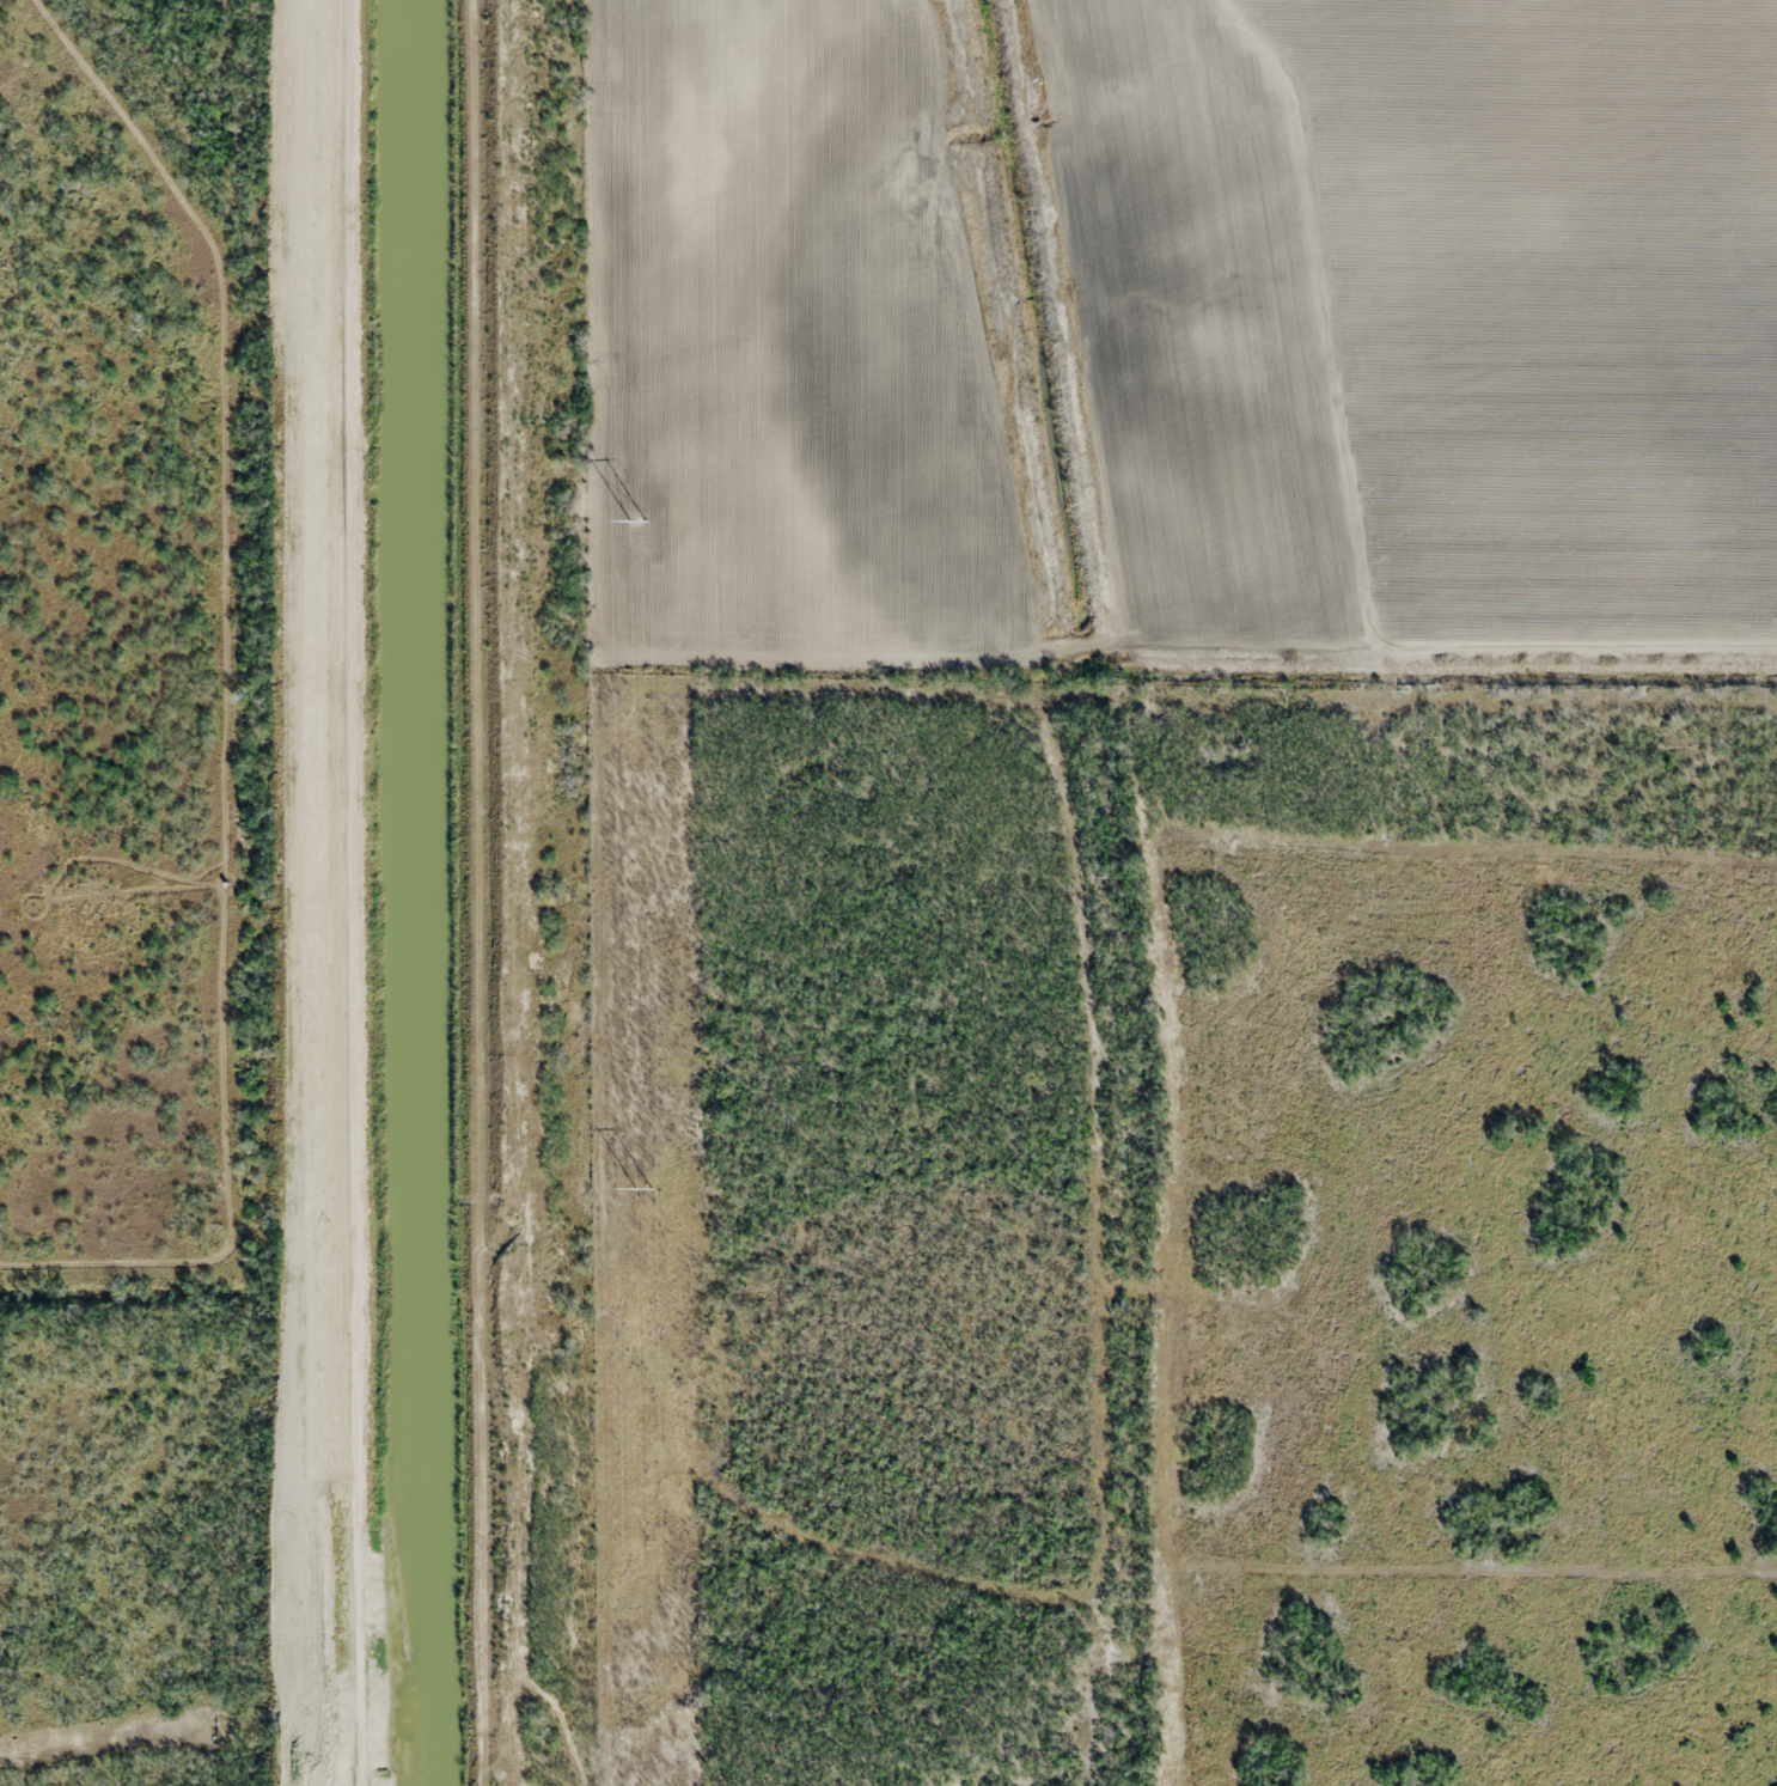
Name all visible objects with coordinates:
power tower: (635, 522)
power tower: (645, 1189)

